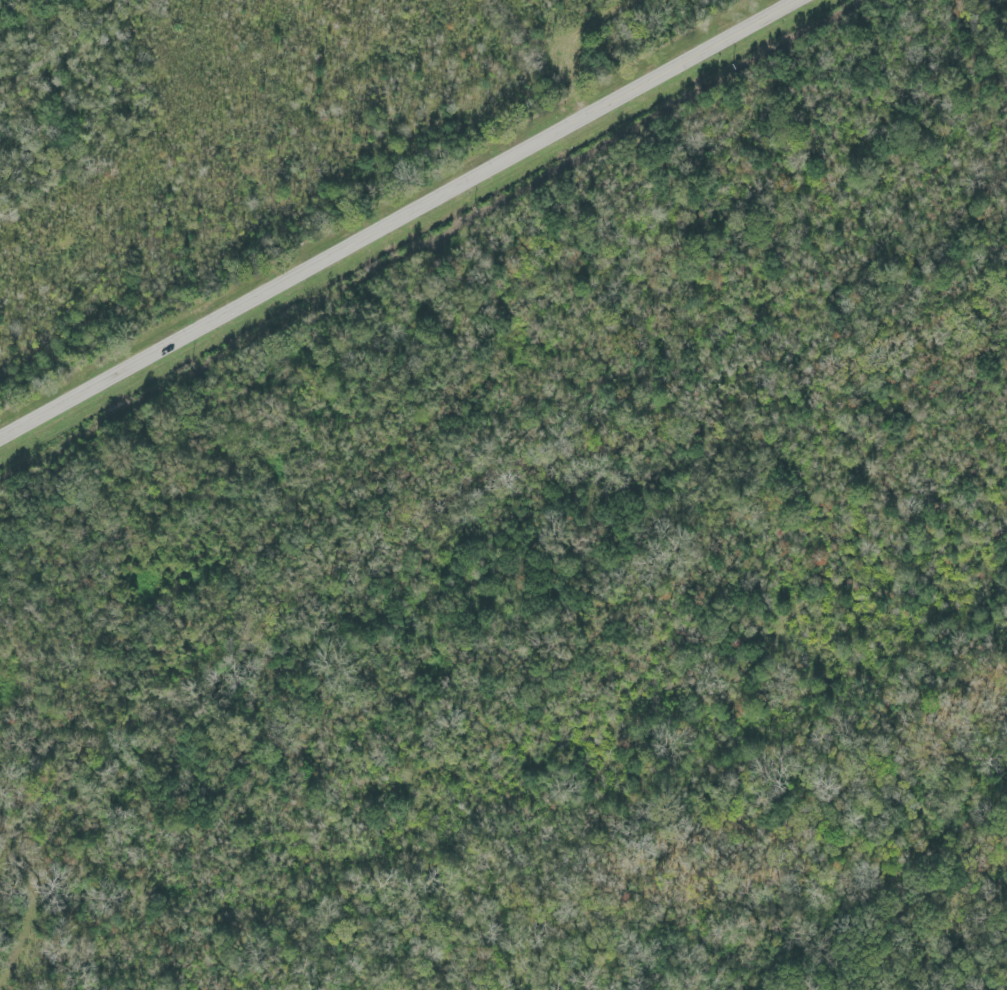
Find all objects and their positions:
road: (399, 222)

